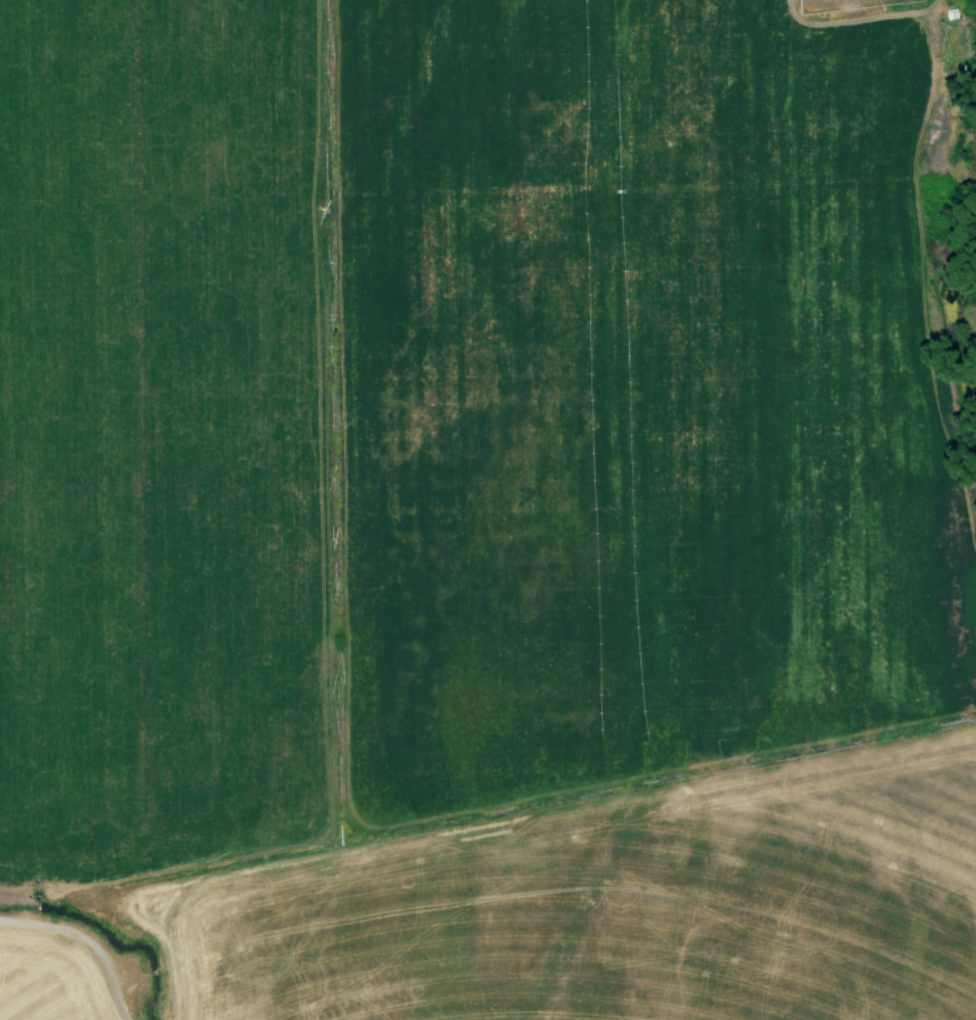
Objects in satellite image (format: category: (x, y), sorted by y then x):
road: (86, 941)

